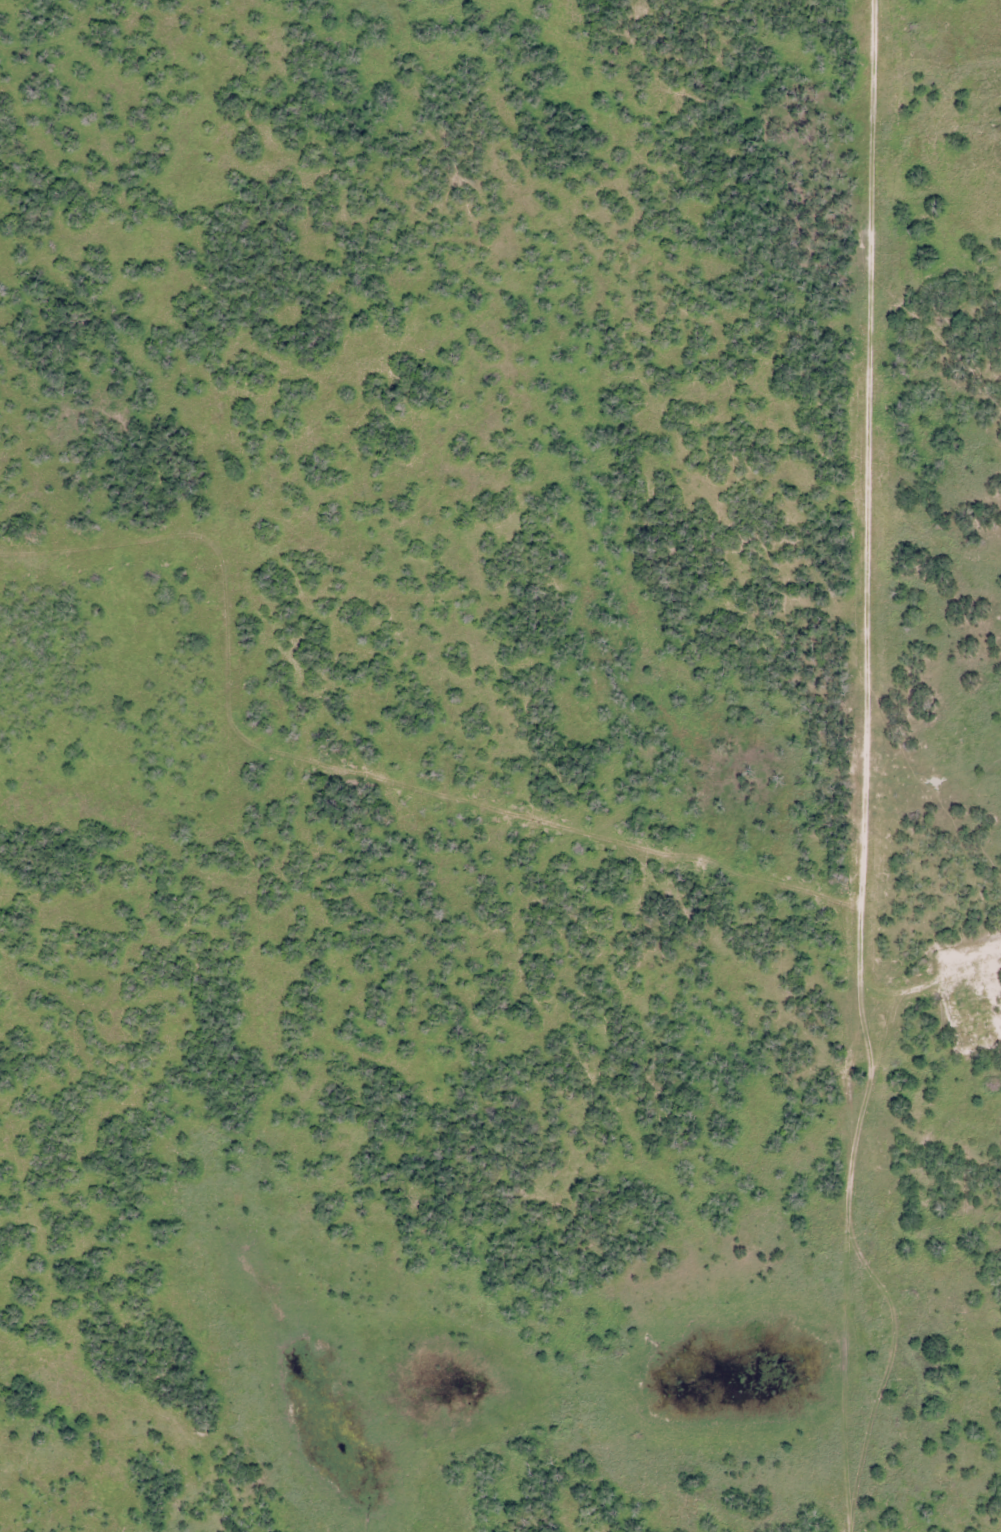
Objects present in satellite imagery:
road: (820, 765)

